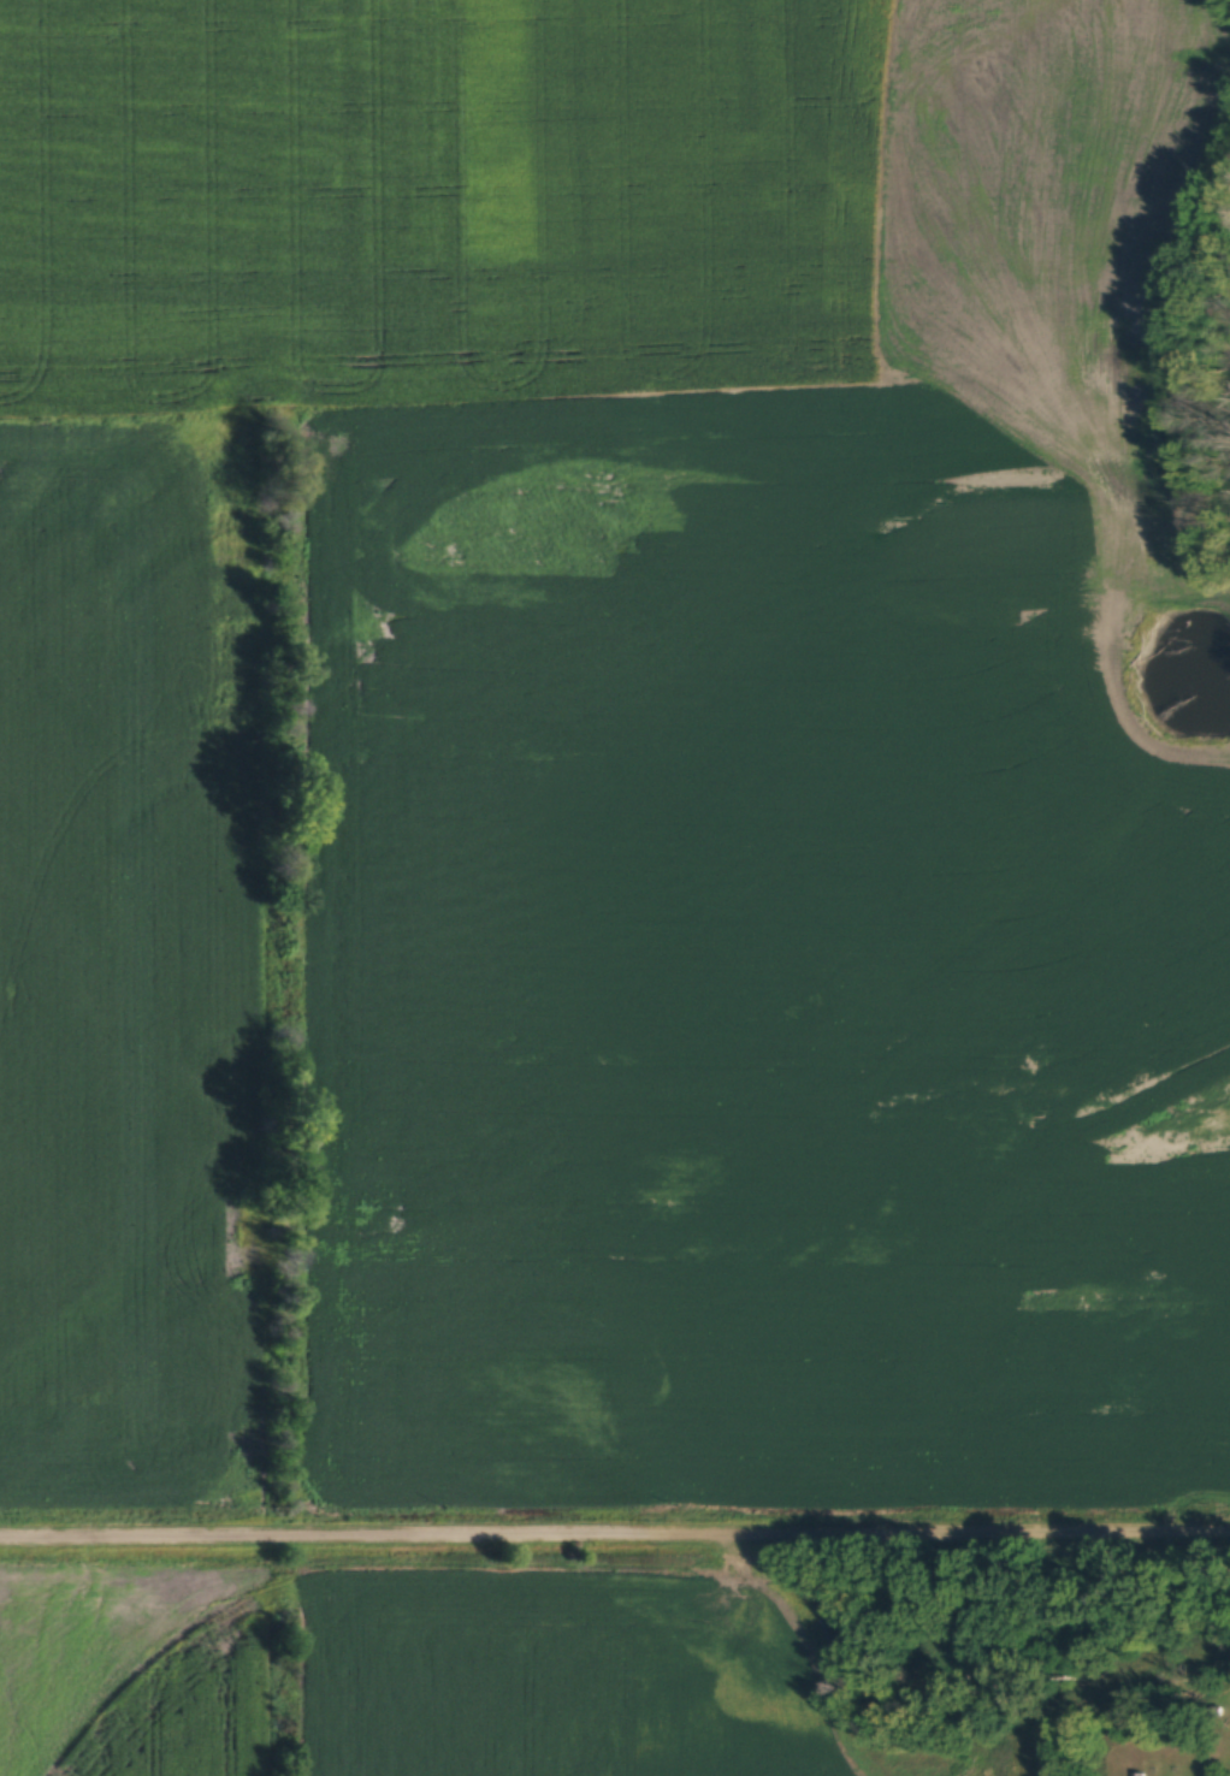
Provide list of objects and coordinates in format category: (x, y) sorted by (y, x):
road: (614, 1534)

